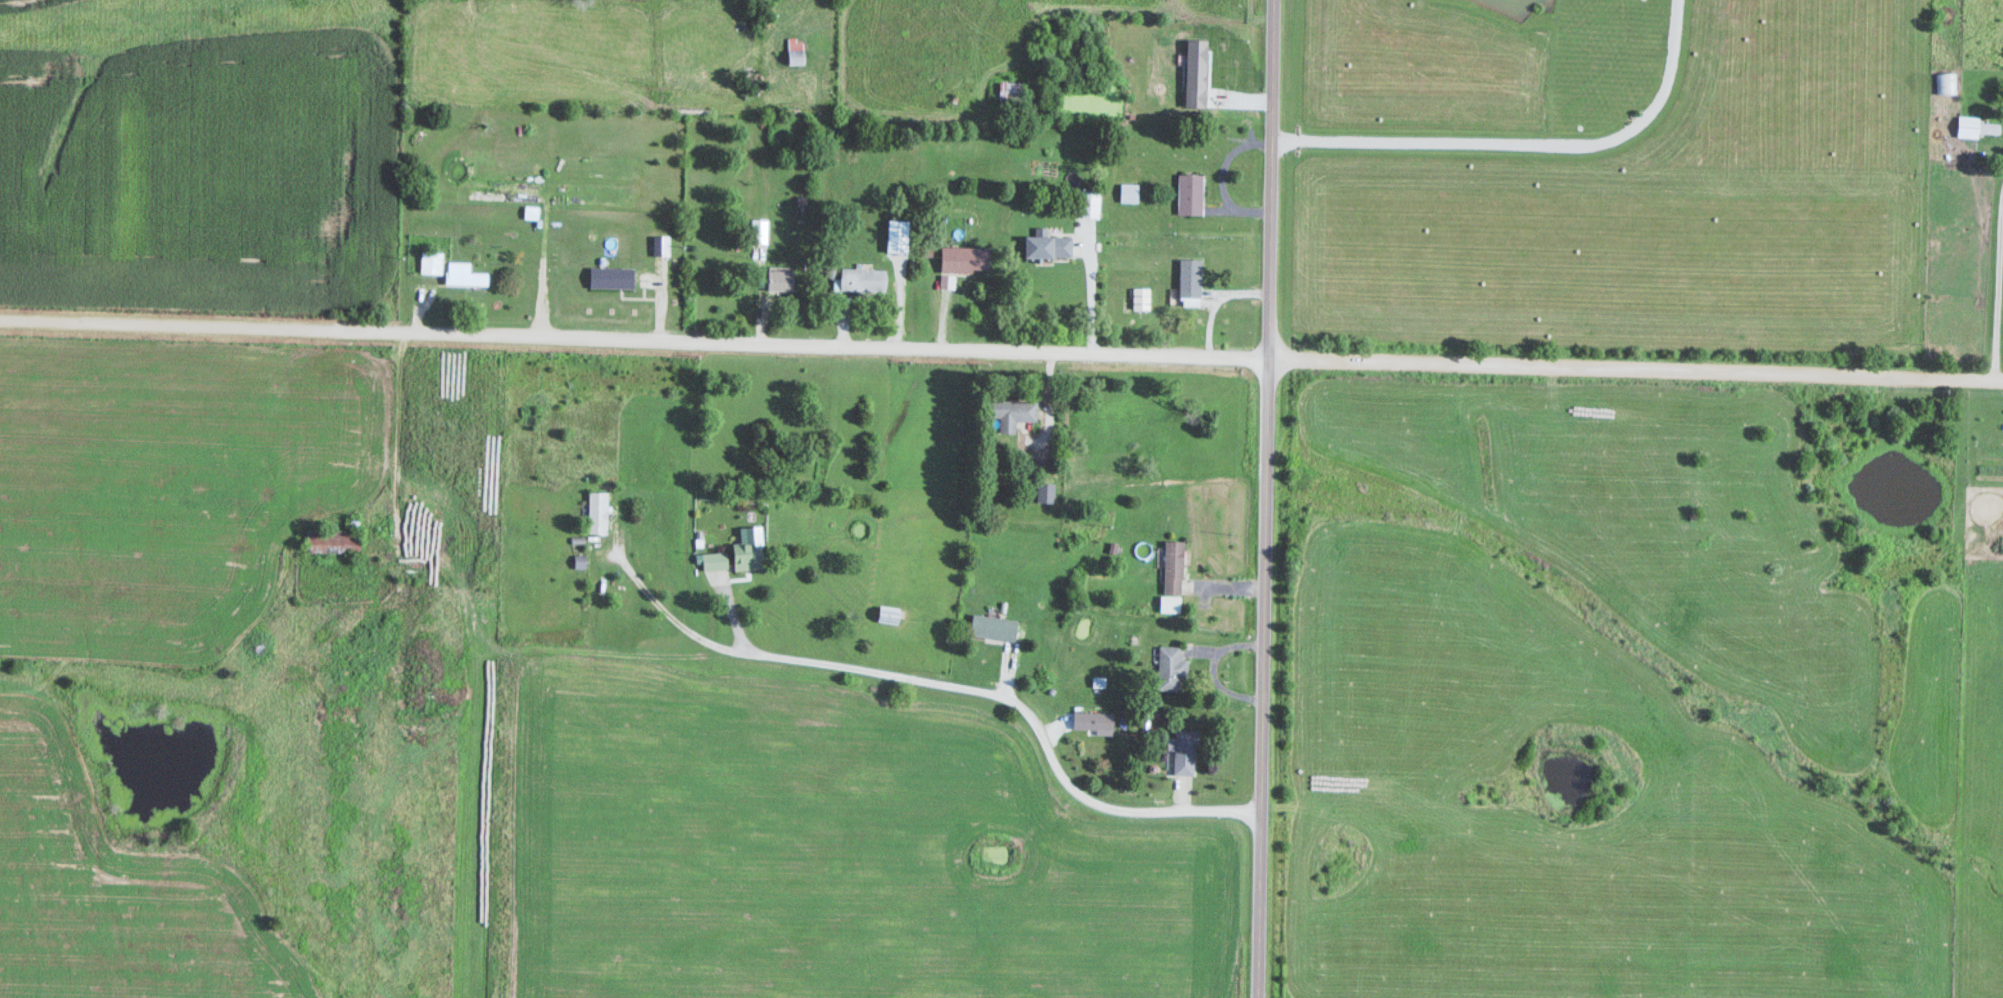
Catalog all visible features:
building: (820, 42)
building: (793, 52)
building: (1946, 82)
building: (1010, 90)
building: (1973, 126)
road: (1529, 149)
building: (1127, 192)
building: (1188, 194)
building: (1087, 204)
building: (1044, 245)
building: (962, 258)
building: (430, 262)
building: (461, 274)
building: (609, 277)
building: (777, 279)
building: (857, 279)
building: (1187, 282)
road: (1092, 298)
road: (1999, 302)
road: (634, 344)
road: (1635, 371)
building: (1007, 412)
road: (1265, 499)
building: (595, 512)
building: (330, 541)
building: (731, 557)
building: (1170, 567)
building: (886, 613)
building: (990, 627)
building: (1169, 668)
road: (944, 683)
building: (1182, 750)

